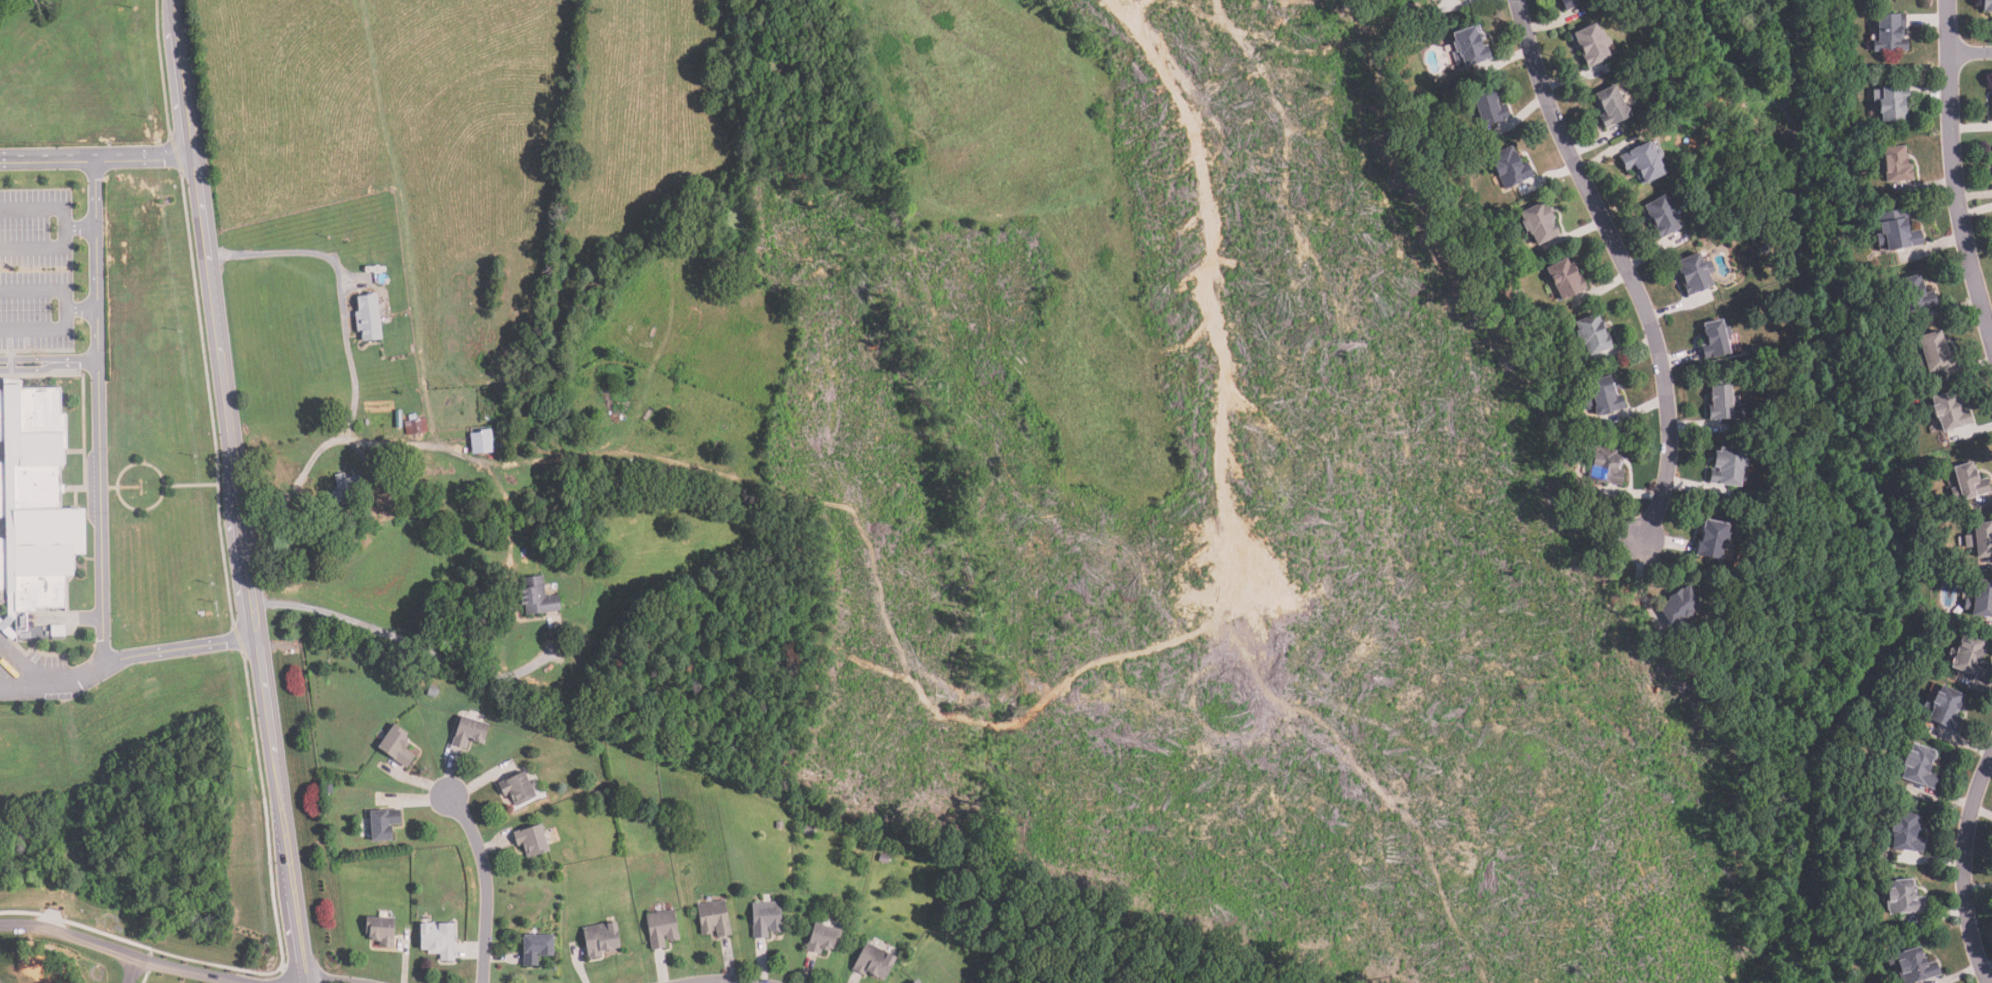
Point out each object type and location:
building: (1432, 0)
building: (1568, 4)
building: (1986, 5)
building: (1890, 33)
building: (1590, 45)
building: (1468, 47)
road: (1971, 52)
building: (1892, 103)
building: (1489, 107)
building: (1610, 107)
building: (1991, 107)
building: (1821, 133)
road: (99, 157)
building: (1642, 162)
building: (1895, 164)
building: (1508, 168)
road: (1953, 172)
building: (1661, 216)
building: (1726, 217)
building: (1537, 223)
road: (68, 225)
road: (81, 225)
parking lot: (36, 229)
building: (1897, 230)
building: (1765, 248)
road: (1627, 272)
building: (1694, 274)
building: (1564, 279)
building: (1916, 294)
road: (217, 300)
road: (67, 306)
road: (82, 307)
parking lot: (36, 311)
building: (366, 317)
building: (1592, 335)
building: (1713, 340)
road: (348, 350)
building: (1933, 352)
building: (1750, 353)
road: (28, 359)
road: (76, 362)
road: (29, 370)
building: (1602, 397)
building: (1723, 404)
building: (1949, 411)
building: (397, 419)
building: (366, 422)
building: (415, 426)
building: (480, 441)
road: (419, 444)
building: (1605, 465)
building: (1727, 467)
building: (1967, 482)
road: (99, 489)
building: (343, 489)
building: (33, 502)
building: (361, 509)
building: (1980, 539)
building: (1710, 540)
building: (535, 597)
building: (1981, 599)
building: (1678, 608)
road: (257, 620)
road: (405, 645)
building: (1969, 657)
road: (85, 675)
road: (57, 683)
building: (431, 690)
building: (1944, 708)
building: (467, 731)
building: (394, 744)
building: (1919, 766)
building: (515, 786)
building: (328, 788)
building: (599, 794)
road: (285, 810)
building: (380, 823)
building: (779, 824)
building: (808, 829)
building: (1904, 833)
building: (530, 839)
building: (883, 857)
road: (1961, 869)
road: (487, 885)
building: (1902, 897)
building: (713, 917)
building: (764, 918)
building: (659, 927)
building: (379, 929)
building: (821, 937)
building: (598, 938)
building: (435, 939)
building: (534, 947)
road: (133, 953)
building: (872, 960)
building: (1911, 966)
road: (129, 968)
road: (334, 978)
building: (2, 979)
building: (913, 981)
building: (918, 982)

